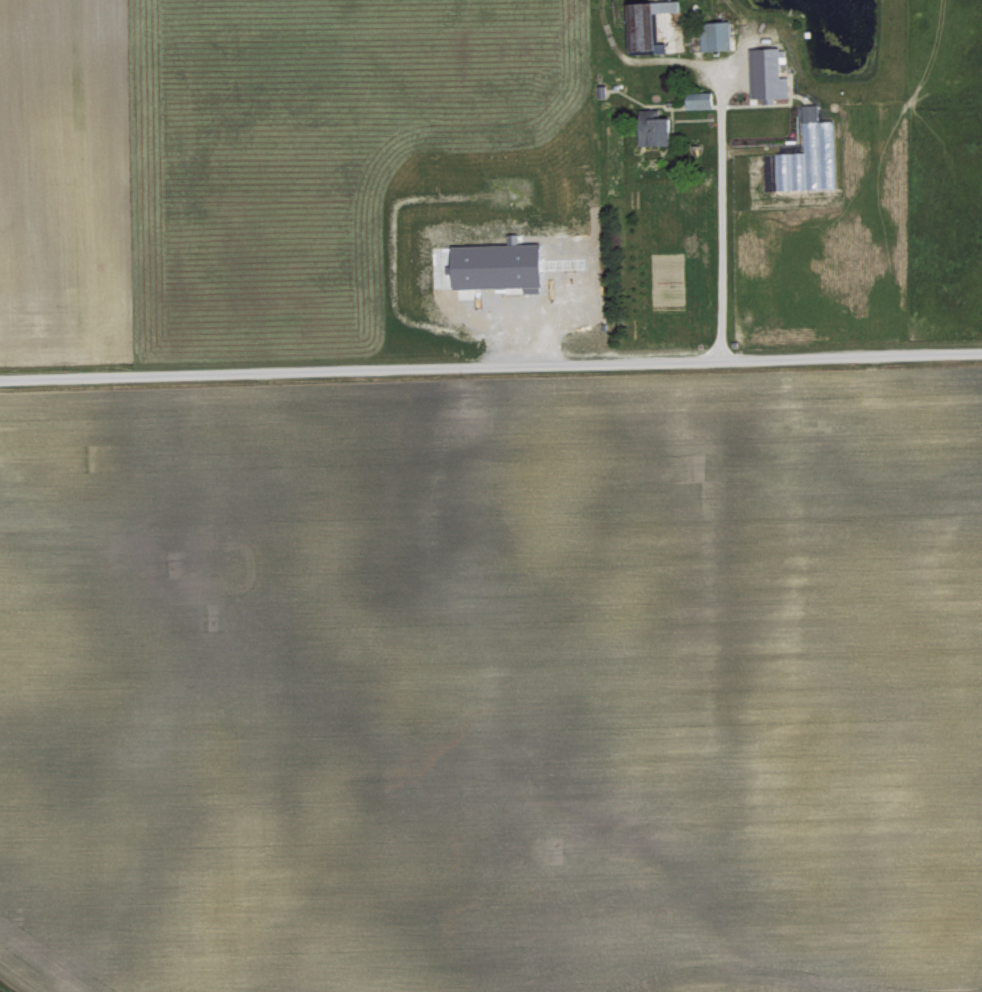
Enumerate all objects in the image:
building: (647, 21)
building: (717, 34)
building: (768, 73)
building: (659, 131)
building: (809, 155)
road: (718, 237)
building: (499, 265)
road: (490, 364)

